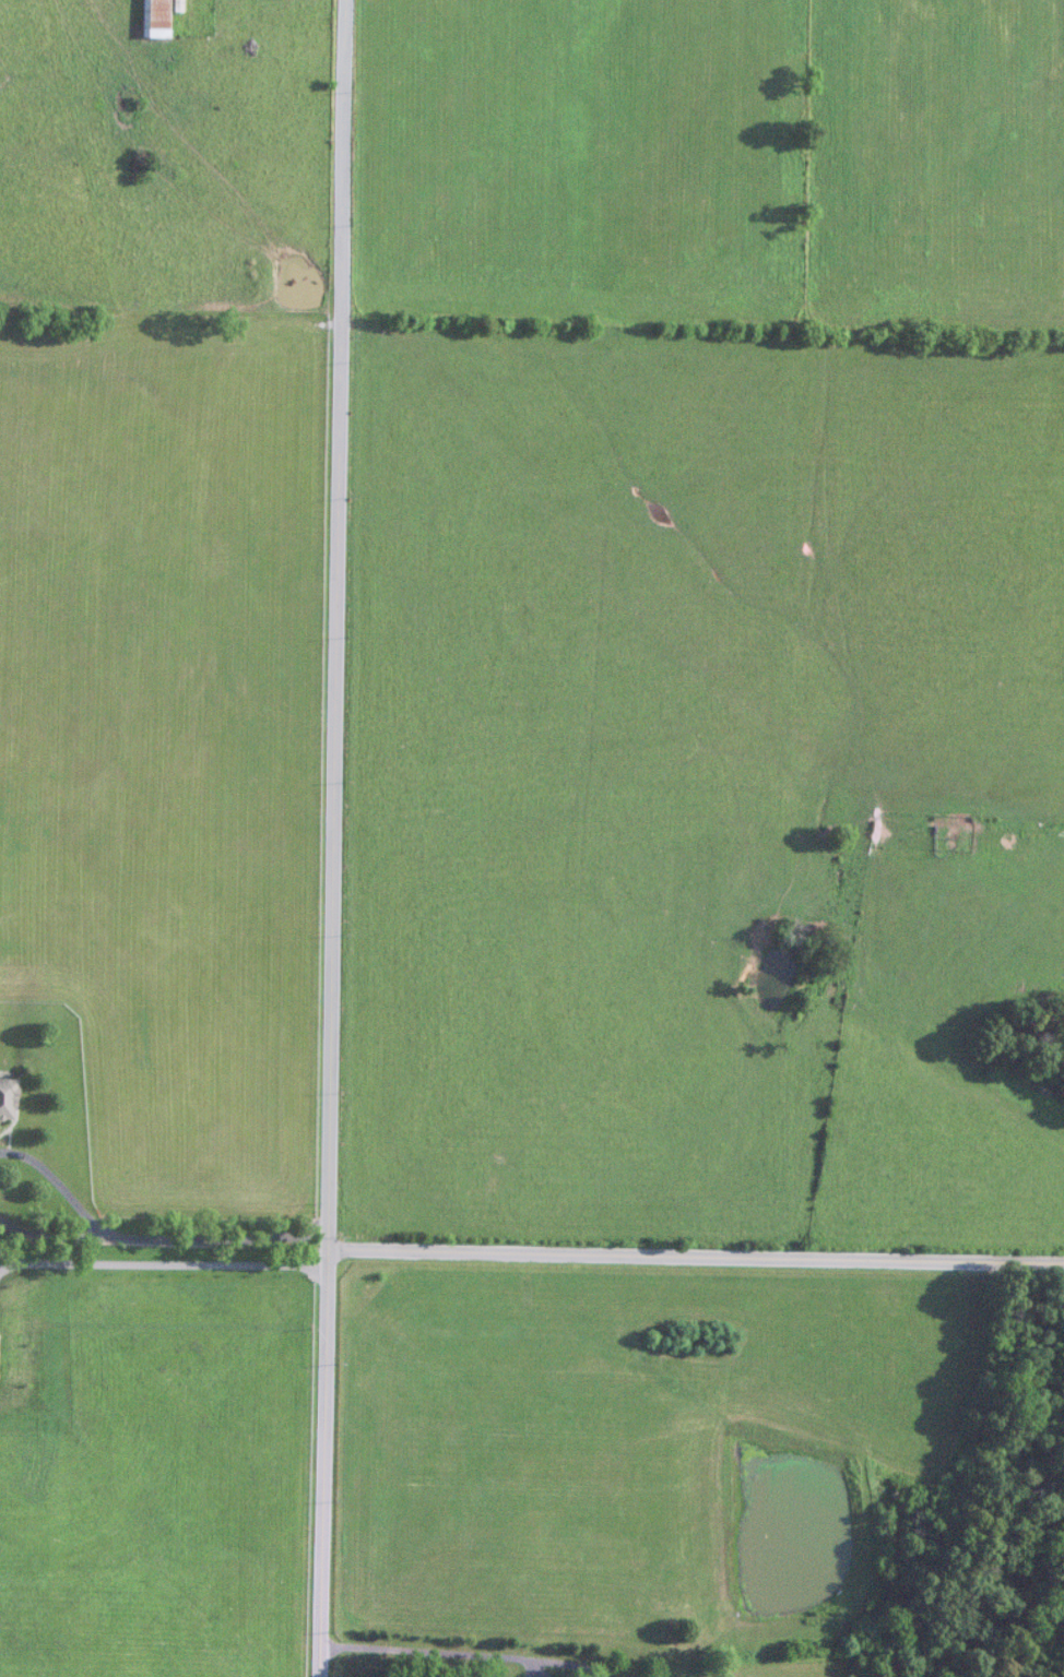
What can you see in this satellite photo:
building: (156, 19)
road: (336, 838)
building: (7, 1099)
road: (58, 1186)
road: (51, 1237)
road: (220, 1237)
road: (698, 1249)
road: (166, 1262)
road: (423, 1651)
road: (563, 1663)
road: (533, 1667)

